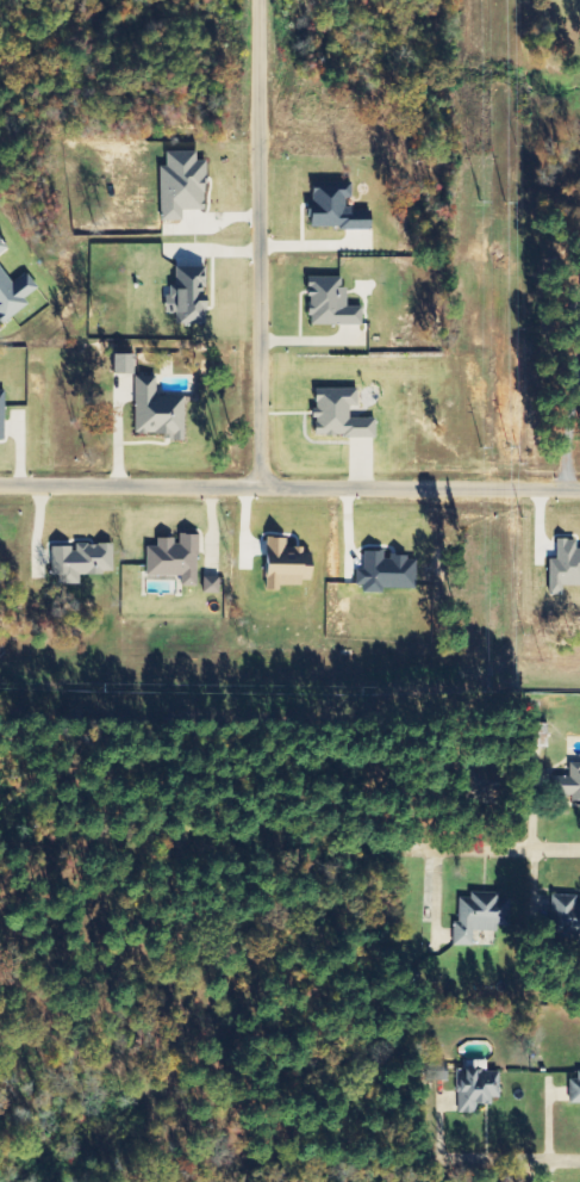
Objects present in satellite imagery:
building: (183, 185)
building: (336, 208)
building: (2, 245)
building: (14, 295)
building: (191, 297)
building: (332, 303)
building: (126, 365)
building: (157, 411)
building: (1, 414)
building: (339, 415)
road: (289, 479)
building: (175, 559)
building: (81, 562)
building: (287, 564)
building: (565, 567)
building: (388, 573)
building: (212, 586)
building: (572, 782)
road: (500, 848)
building: (565, 908)
building: (480, 915)
building: (476, 1085)
building: (574, 1090)
road: (506, 1163)

